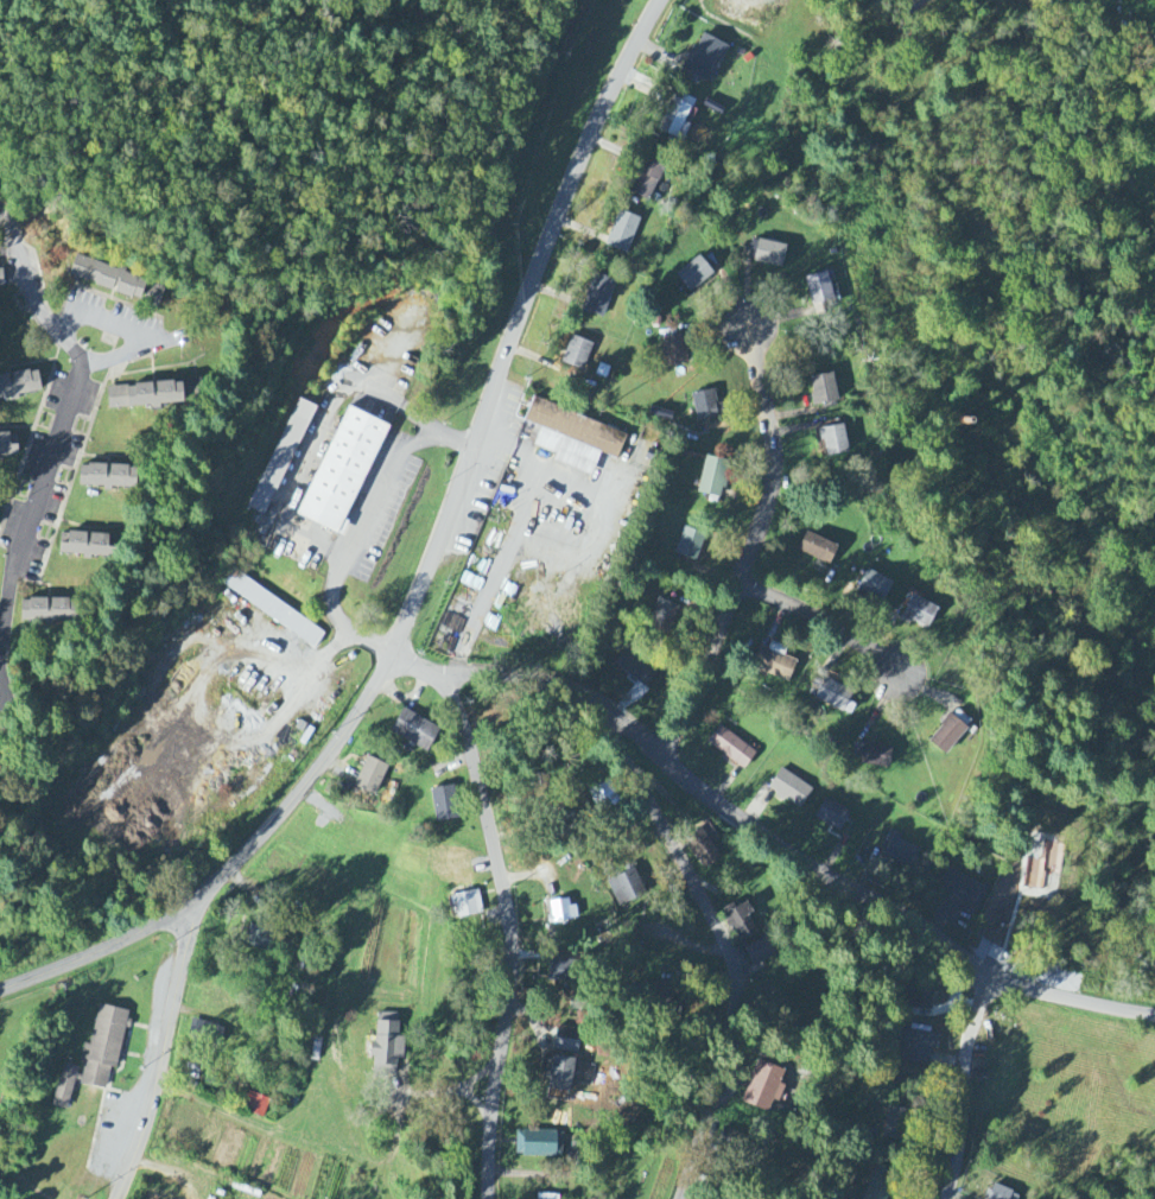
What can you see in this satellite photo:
building: (1142, 0)
building: (703, 59)
building: (674, 121)
building: (645, 180)
building: (621, 233)
building: (767, 254)
building: (693, 275)
building: (0, 279)
building: (106, 279)
power tower: (483, 279)
building: (818, 288)
building: (597, 296)
road: (129, 328)
building: (674, 351)
building: (576, 354)
building: (18, 385)
building: (823, 391)
building: (142, 397)
building: (704, 407)
road: (63, 425)
building: (572, 438)
building: (833, 442)
building: (7, 445)
building: (281, 458)
building: (341, 472)
building: (104, 477)
building: (712, 478)
road: (357, 532)
building: (688, 545)
building: (81, 546)
road: (750, 548)
building: (818, 550)
road: (425, 573)
building: (874, 586)
building: (44, 611)
building: (277, 613)
building: (919, 613)
building: (664, 616)
road: (821, 627)
road: (286, 662)
building: (773, 662)
building: (635, 668)
building: (831, 696)
building: (413, 731)
building: (946, 736)
building: (730, 749)
building: (876, 756)
power tower: (262, 778)
building: (369, 778)
building: (789, 789)
building: (443, 805)
building: (831, 816)
road: (787, 840)
building: (703, 846)
building: (901, 855)
building: (626, 889)
building: (963, 890)
building: (467, 906)
road: (508, 907)
building: (560, 912)
building: (741, 925)
building: (626, 938)
building: (261, 941)
power tower: (172, 946)
road: (726, 949)
building: (757, 953)
building: (671, 962)
building: (557, 972)
building: (204, 1034)
building: (563, 1043)
building: (386, 1047)
building: (103, 1048)
building: (915, 1048)
road: (166, 1049)
building: (196, 1066)
building: (557, 1077)
road: (964, 1085)
building: (64, 1089)
building: (763, 1089)
building: (255, 1106)
building: (894, 1124)
building: (538, 1146)
building: (880, 1184)
power tower: (84, 1194)
building: (1001, 1194)

